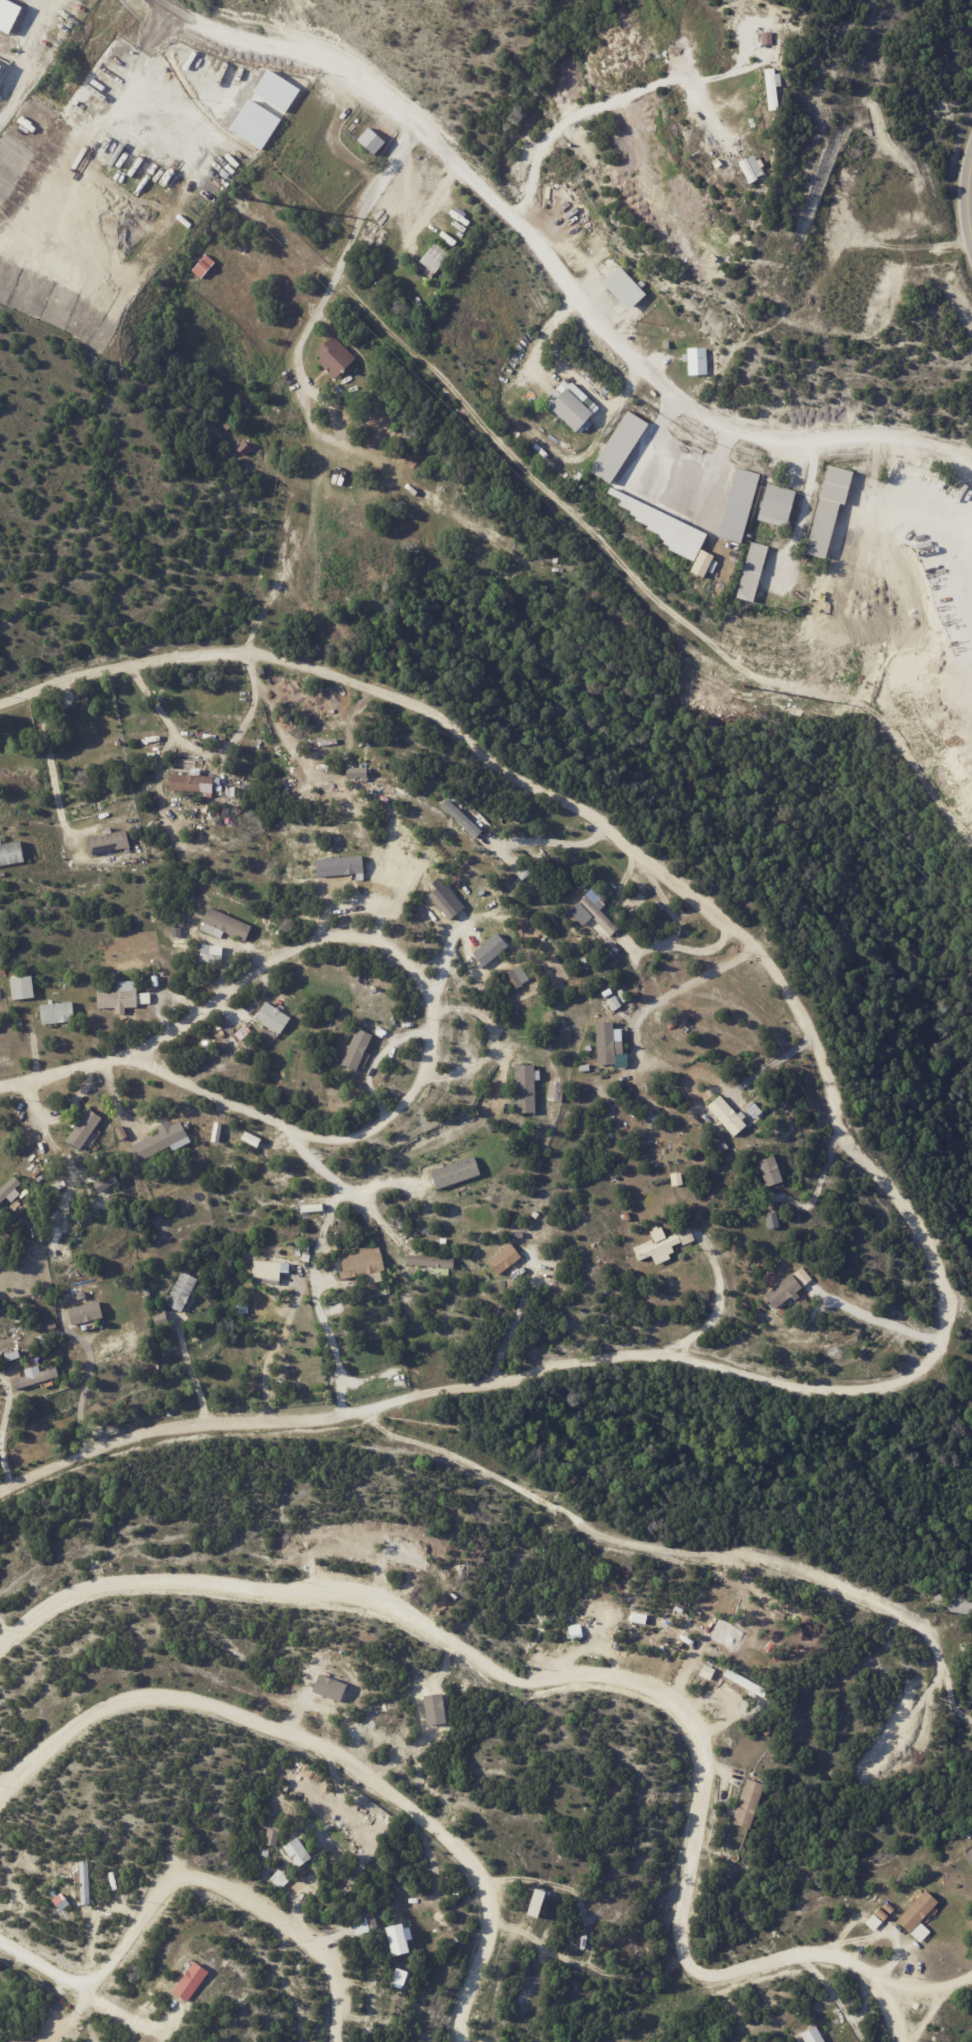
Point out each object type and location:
building: (771, 87)
building: (374, 141)
building: (753, 168)
power tower: (250, 199)
road: (432, 213)
road: (74, 251)
road: (342, 253)
building: (436, 259)
building: (202, 266)
road: (554, 267)
building: (628, 288)
building: (667, 345)
building: (335, 356)
building: (697, 361)
building: (573, 405)
building: (229, 426)
building: (543, 428)
building: (620, 448)
building: (247, 450)
building: (739, 505)
building: (778, 506)
building: (832, 507)
building: (665, 525)
building: (722, 540)
building: (701, 563)
building: (755, 571)
power tower: (742, 685)
road: (205, 752)
road: (49, 760)
building: (356, 772)
building: (196, 782)
building: (234, 791)
building: (241, 809)
building: (462, 815)
building: (110, 842)
building: (377, 851)
building: (12, 852)
building: (371, 852)
building: (343, 866)
building: (3, 874)
building: (526, 875)
building: (453, 914)
building: (600, 915)
building: (229, 924)
building: (579, 937)
building: (492, 949)
building: (617, 950)
building: (210, 954)
building: (515, 977)
road: (696, 979)
building: (157, 980)
building: (24, 987)
building: (610, 993)
building: (122, 997)
building: (143, 998)
building: (617, 1003)
building: (60, 1013)
building: (275, 1017)
building: (610, 1040)
building: (590, 1048)
building: (360, 1050)
road: (820, 1061)
road: (771, 1065)
building: (586, 1068)
road: (63, 1073)
building: (527, 1088)
road: (414, 1089)
building: (558, 1091)
building: (629, 1092)
building: (547, 1110)
building: (756, 1110)
building: (654, 1116)
building: (730, 1116)
building: (85, 1128)
building: (123, 1133)
building: (250, 1138)
building: (165, 1140)
building: (728, 1147)
building: (772, 1171)
building: (39, 1173)
building: (457, 1174)
building: (42, 1178)
building: (105, 1182)
building: (14, 1191)
building: (2, 1213)
road: (378, 1215)
building: (628, 1217)
building: (773, 1220)
building: (521, 1236)
building: (688, 1236)
building: (660, 1246)
building: (280, 1252)
building: (308, 1254)
building: (474, 1254)
building: (230, 1260)
building: (506, 1260)
building: (431, 1261)
building: (364, 1263)
building: (782, 1269)
building: (267, 1272)
building: (801, 1276)
building: (149, 1292)
building: (184, 1292)
building: (788, 1292)
building: (82, 1295)
road: (721, 1304)
road: (297, 1305)
building: (88, 1313)
road: (517, 1315)
building: (159, 1318)
road: (878, 1321)
building: (53, 1327)
building: (397, 1336)
building: (44, 1342)
building: (14, 1356)
building: (36, 1377)
road: (88, 1393)
road: (518, 1493)
building: (942, 1599)
building: (961, 1605)
road: (566, 1680)
building: (770, 1733)
road: (327, 1749)
building: (282, 1770)
building: (288, 1785)
building: (750, 1804)
building: (968, 1836)
building: (274, 1837)
building: (299, 1851)
building: (969, 1857)
building: (265, 1859)
building: (280, 1877)
building: (922, 1881)
building: (83, 1882)
road: (188, 1885)
building: (60, 1901)
building: (535, 1902)
building: (886, 1910)
building: (917, 1912)
building: (879, 1916)
building: (872, 1922)
building: (363, 1926)
building: (400, 1940)
building: (455, 1944)
building: (193, 1982)
road: (936, 1994)
road: (899, 2016)
building: (786, 2021)
building: (815, 2035)
building: (20, 2040)

